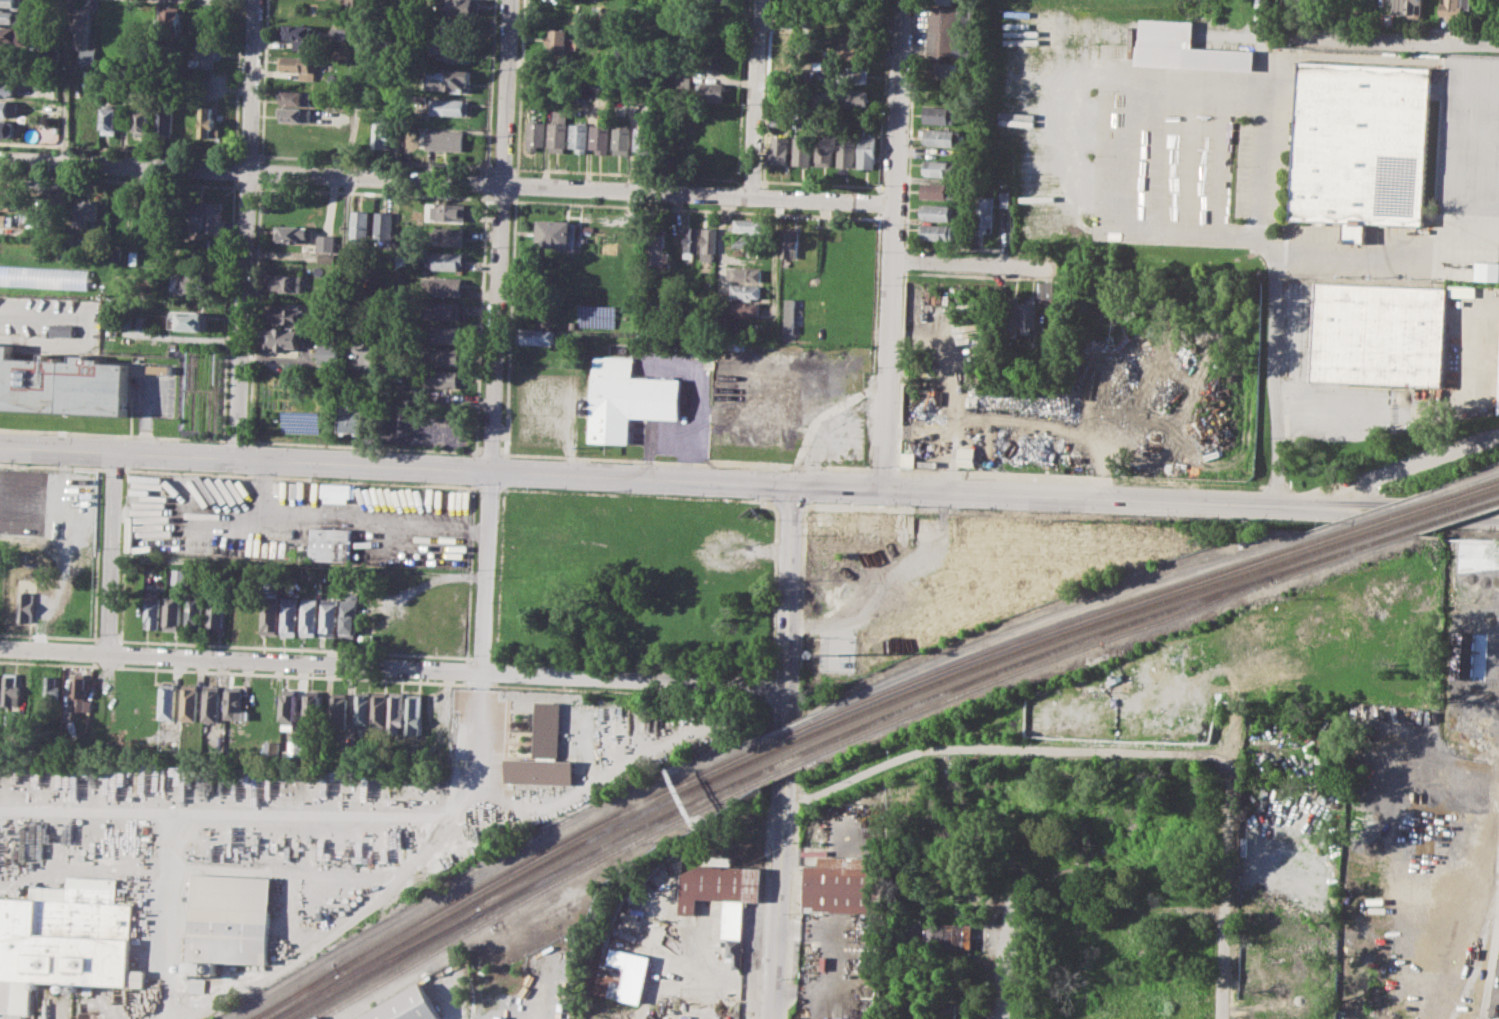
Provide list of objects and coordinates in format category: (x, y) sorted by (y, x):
building: (718, 0)
building: (944, 2)
building: (10, 3)
building: (466, 6)
building: (1406, 6)
building: (1456, 8)
building: (172, 13)
road: (1292, 16)
building: (11, 18)
building: (462, 26)
building: (948, 30)
building: (296, 33)
building: (339, 33)
building: (85, 35)
road: (1350, 35)
building: (12, 37)
building: (559, 39)
building: (1185, 47)
building: (455, 51)
building: (205, 55)
building: (300, 66)
building: (8, 68)
building: (941, 69)
building: (852, 73)
road: (1479, 75)
building: (450, 79)
building: (601, 79)
road: (65, 81)
building: (684, 83)
road: (1105, 83)
building: (7, 88)
building: (713, 91)
building: (298, 97)
road: (754, 97)
building: (852, 97)
building: (451, 106)
building: (8, 108)
building: (940, 113)
building: (295, 115)
building: (110, 119)
building: (165, 120)
building: (142, 122)
building: (208, 123)
building: (6, 128)
building: (558, 132)
building: (381, 133)
building: (536, 135)
building: (600, 136)
building: (579, 137)
building: (942, 137)
building: (445, 139)
building: (622, 140)
building: (643, 140)
building: (1361, 146)
building: (781, 147)
road: (1433, 148)
building: (803, 150)
building: (825, 150)
building: (846, 151)
building: (867, 151)
building: (942, 167)
road: (632, 173)
road: (445, 182)
road: (805, 182)
building: (5, 185)
building: (936, 190)
building: (1005, 198)
building: (5, 203)
building: (450, 210)
building: (938, 211)
building: (86, 213)
building: (985, 213)
building: (197, 215)
building: (213, 217)
building: (5, 220)
building: (748, 225)
building: (361, 227)
building: (385, 227)
road: (243, 228)
building: (557, 232)
building: (936, 232)
building: (292, 233)
building: (450, 236)
building: (691, 241)
building: (747, 241)
building: (326, 242)
road: (890, 242)
building: (208, 243)
building: (709, 243)
building: (791, 244)
road: (1276, 248)
building: (660, 249)
building: (134, 257)
building: (326, 257)
building: (446, 260)
road: (776, 264)
road: (970, 265)
building: (1487, 272)
building: (745, 273)
building: (44, 276)
building: (191, 281)
building: (284, 283)
building: (445, 285)
building: (1052, 289)
building: (747, 291)
building: (1462, 291)
building: (190, 301)
building: (746, 308)
building: (444, 310)
building: (289, 314)
building: (1028, 314)
building: (790, 315)
building: (1012, 315)
building: (190, 320)
building: (62, 328)
building: (446, 334)
road: (496, 335)
building: (540, 335)
building: (1377, 335)
building: (329, 336)
road: (183, 337)
building: (282, 338)
building: (329, 352)
building: (444, 356)
building: (161, 368)
building: (442, 377)
building: (62, 383)
building: (796, 388)
building: (628, 398)
building: (355, 412)
road: (1359, 412)
building: (300, 421)
building: (742, 440)
building: (966, 456)
building: (908, 459)
road: (397, 463)
road: (1398, 469)
road: (839, 484)
building: (338, 491)
road: (1091, 494)
building: (16, 496)
road: (1490, 514)
parking lot: (296, 519)
building: (830, 524)
building: (330, 543)
road: (112, 551)
road: (299, 565)
building: (178, 576)
building: (11, 604)
road: (789, 604)
building: (27, 605)
building: (152, 609)
building: (172, 612)
building: (194, 612)
building: (216, 613)
building: (270, 614)
building: (290, 615)
building: (350, 615)
building: (310, 616)
building: (330, 617)
road: (393, 666)
railway: (979, 677)
railway: (900, 685)
building: (11, 690)
building: (50, 690)
building: (80, 695)
building: (167, 701)
building: (189, 702)
building: (235, 702)
building: (211, 703)
building: (313, 708)
building: (363, 708)
building: (339, 710)
building: (397, 710)
building: (380, 711)
railway: (866, 711)
building: (288, 712)
building: (415, 713)
road: (476, 741)
building: (272, 747)
building: (295, 748)
road: (1006, 749)
building: (545, 753)
railway: (782, 769)
road: (232, 814)
building: (839, 883)
building: (721, 896)
road: (1226, 896)
road: (779, 898)
road: (171, 900)
building: (229, 919)
building: (948, 935)
road: (325, 936)
building: (65, 940)
road: (995, 957)
railway: (379, 964)
railway: (386, 964)
building: (622, 974)
building: (195, 985)
railway: (293, 994)
railway: (297, 994)
road: (167, 1002)
building: (407, 1005)
building: (948, 1006)

